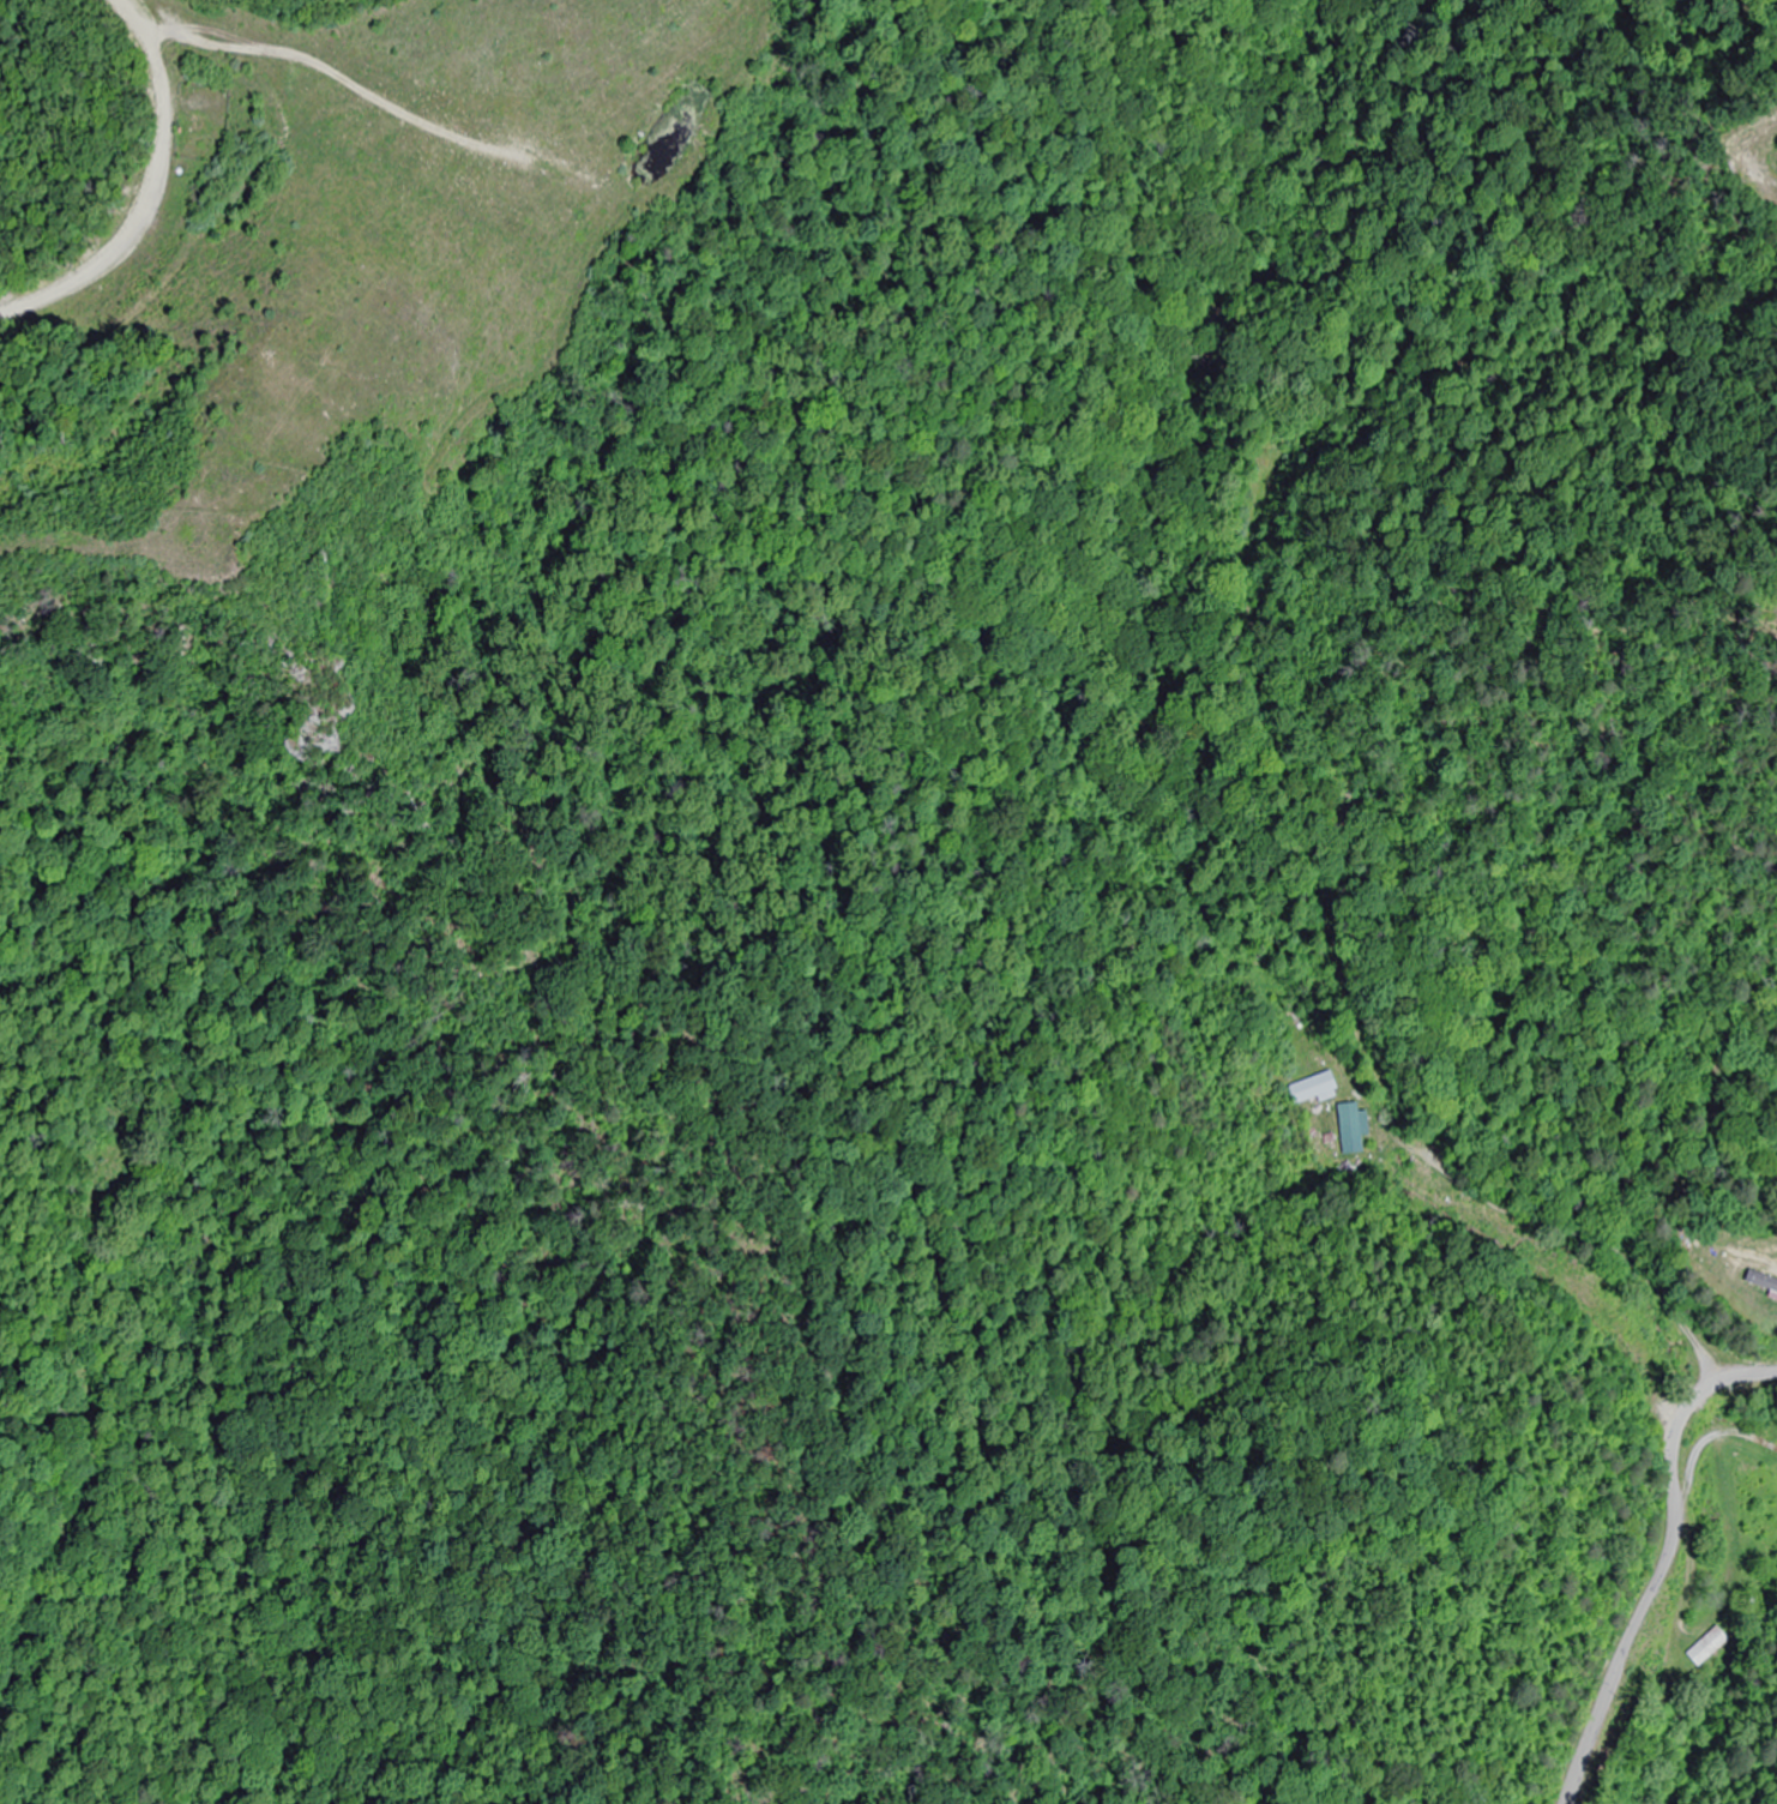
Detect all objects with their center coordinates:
building: (1319, 1088)
building: (1355, 1129)
building: (1758, 1282)
road: (1619, 1504)
building: (1709, 1646)

